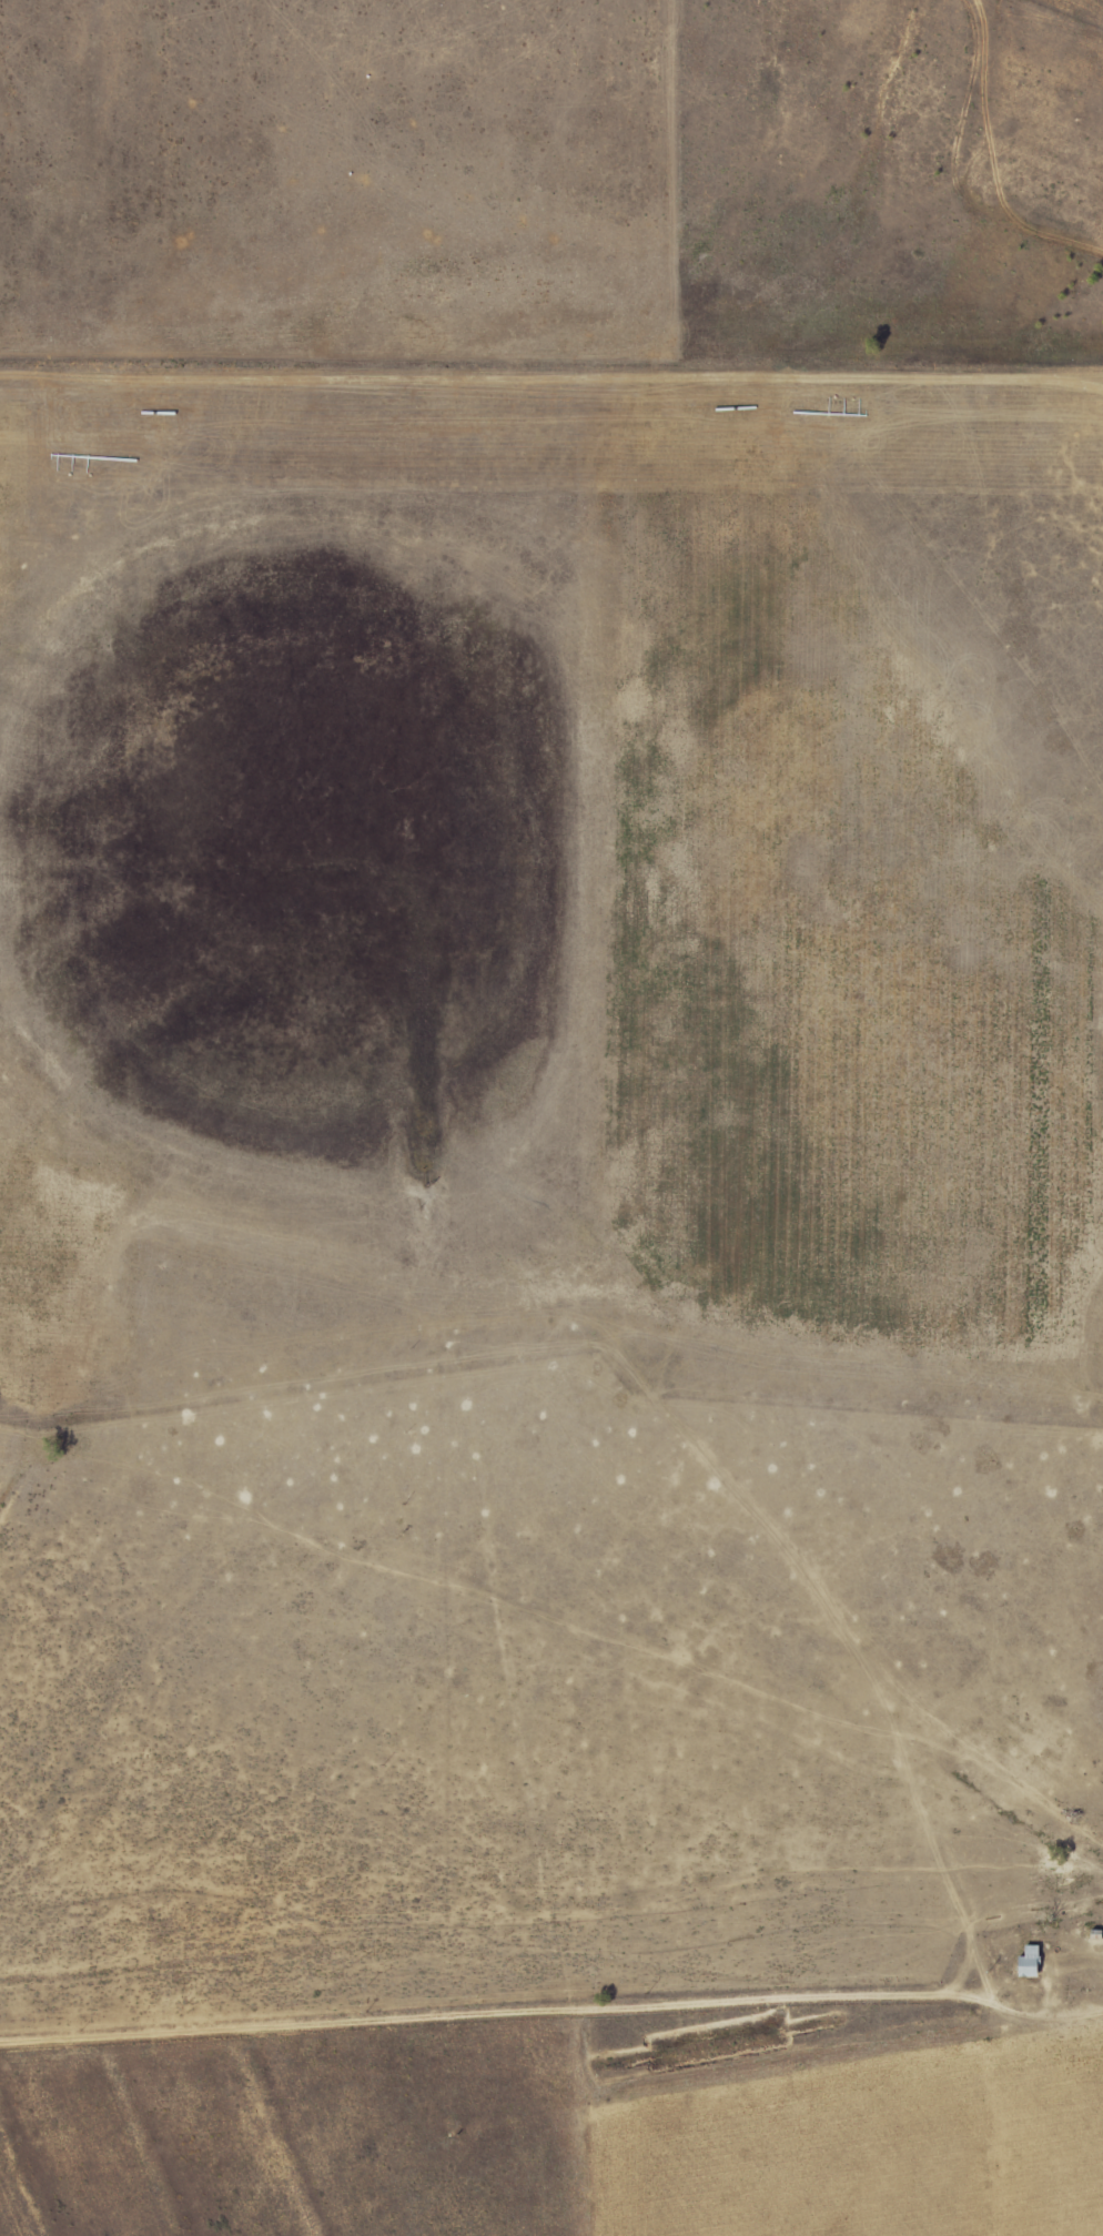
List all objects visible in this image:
road: (551, 2022)

